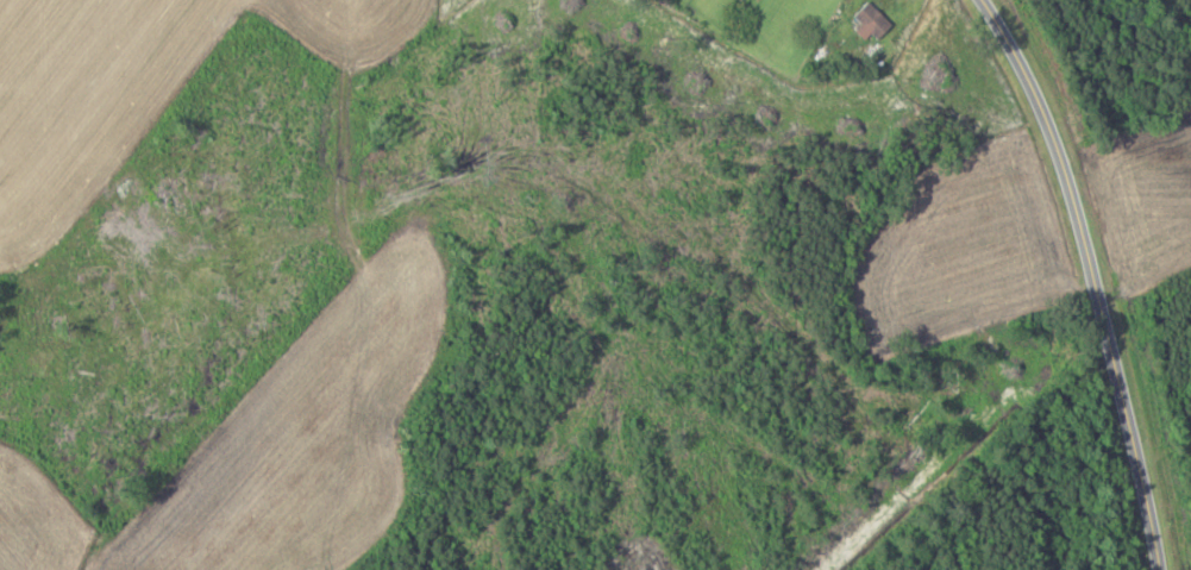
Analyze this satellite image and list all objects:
road: (1092, 276)

